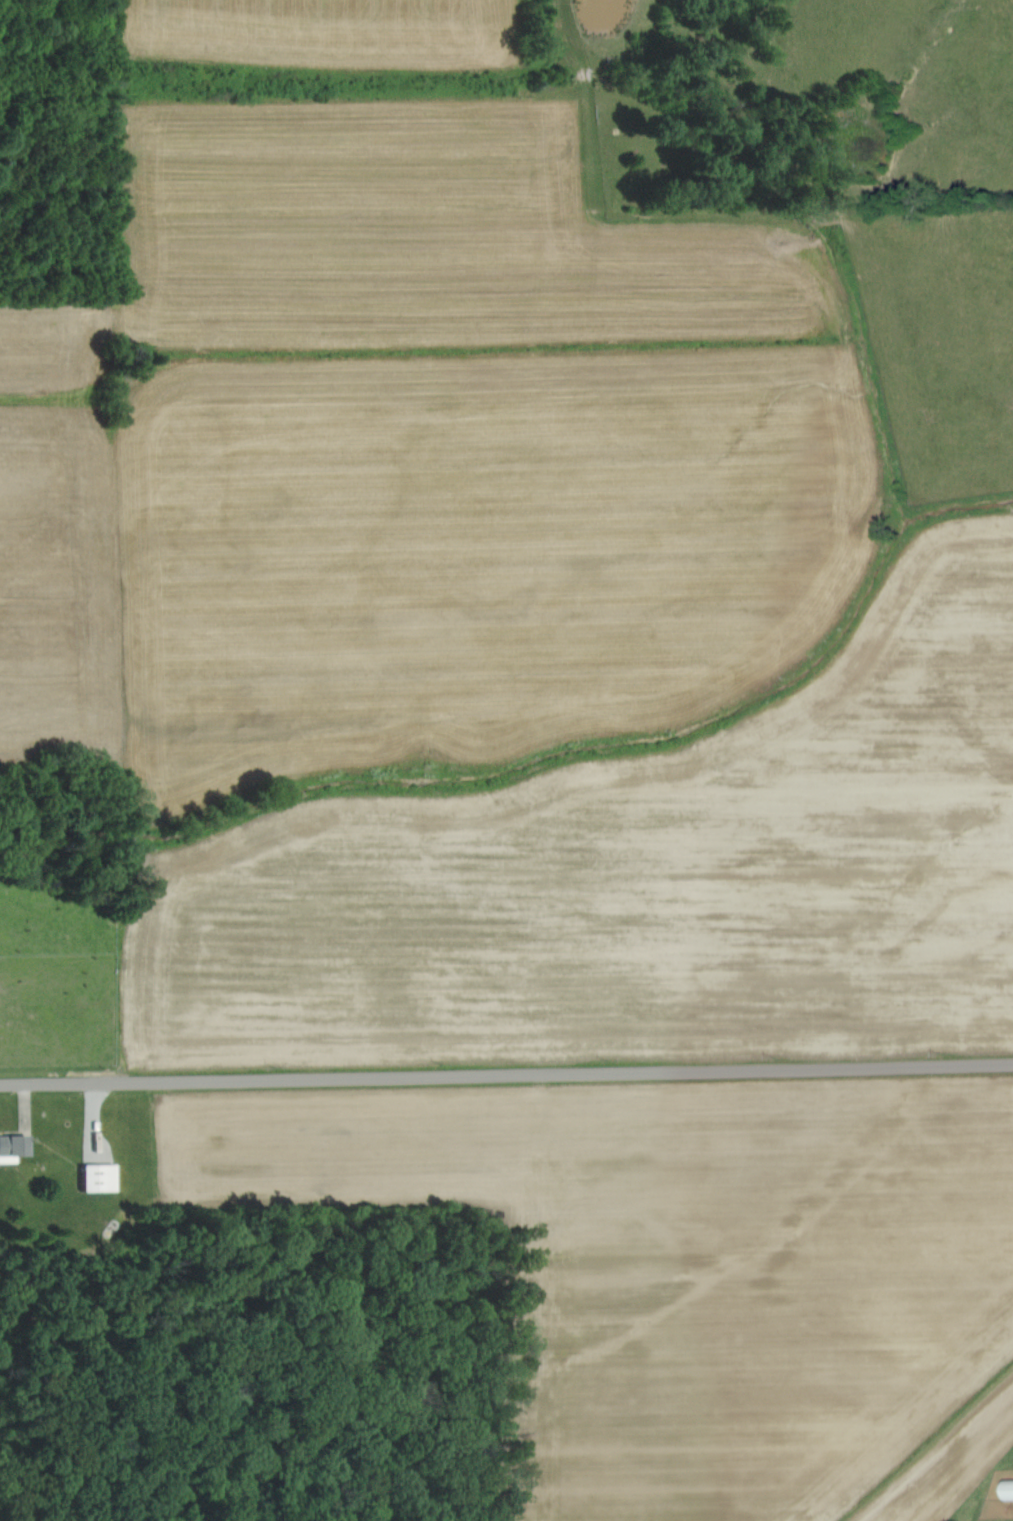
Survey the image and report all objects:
road: (506, 1076)
building: (11, 1148)
building: (92, 1178)

